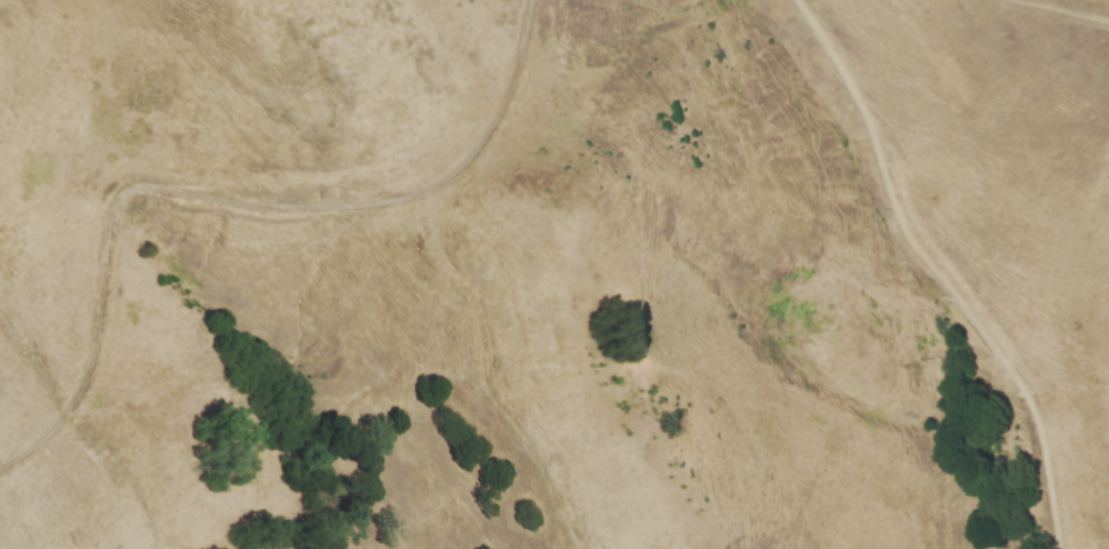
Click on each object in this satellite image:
road: (1060, 12)
road: (231, 196)
road: (939, 272)

